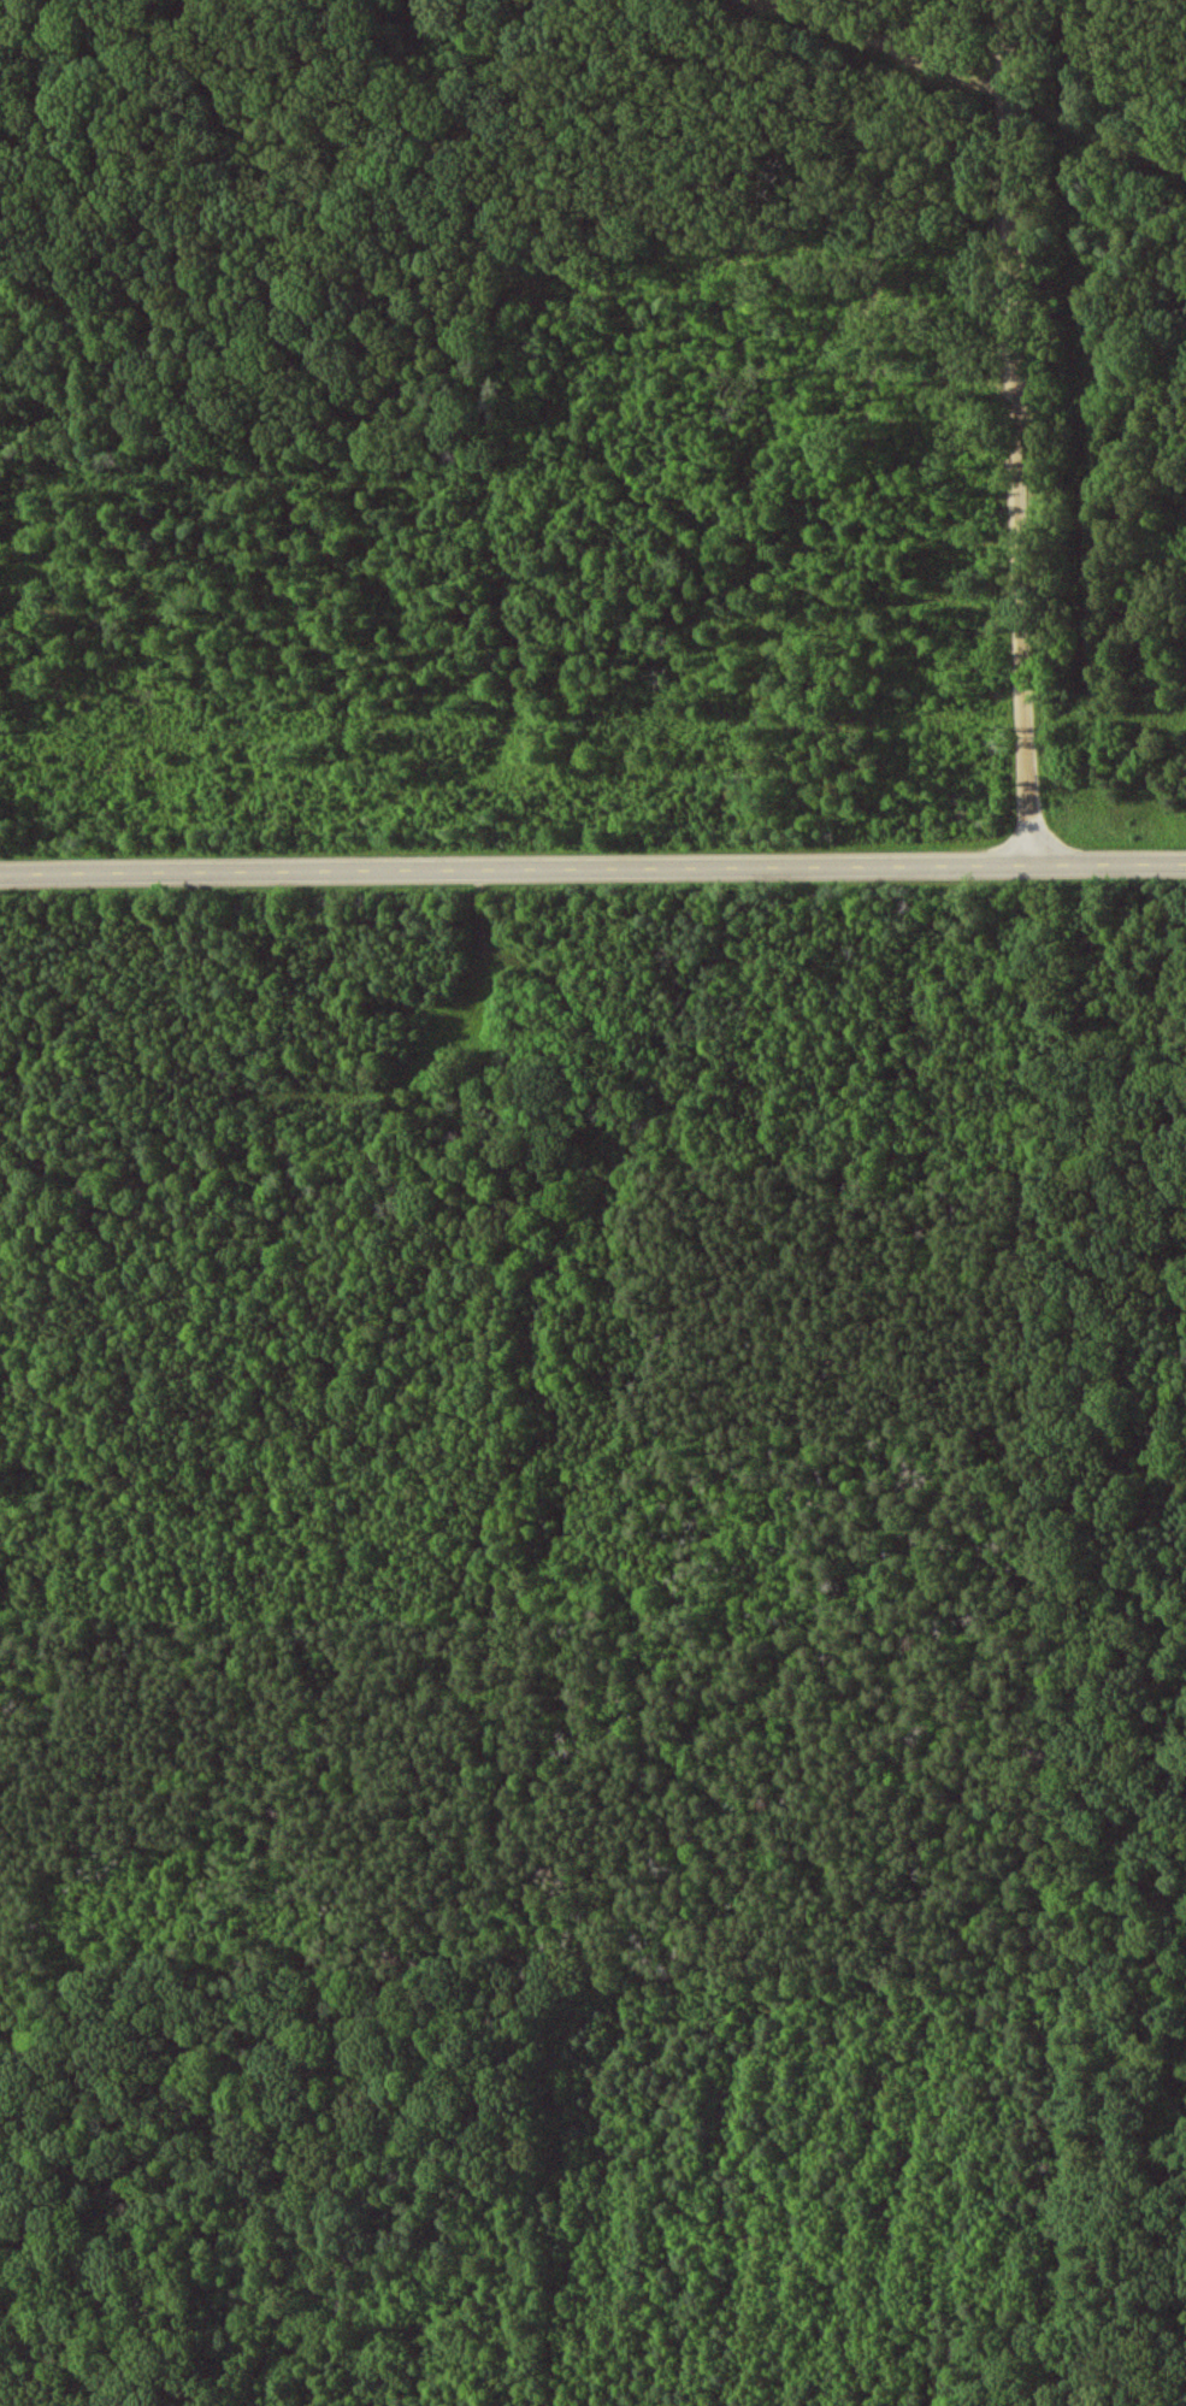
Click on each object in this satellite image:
road: (1017, 432)
road: (592, 871)

